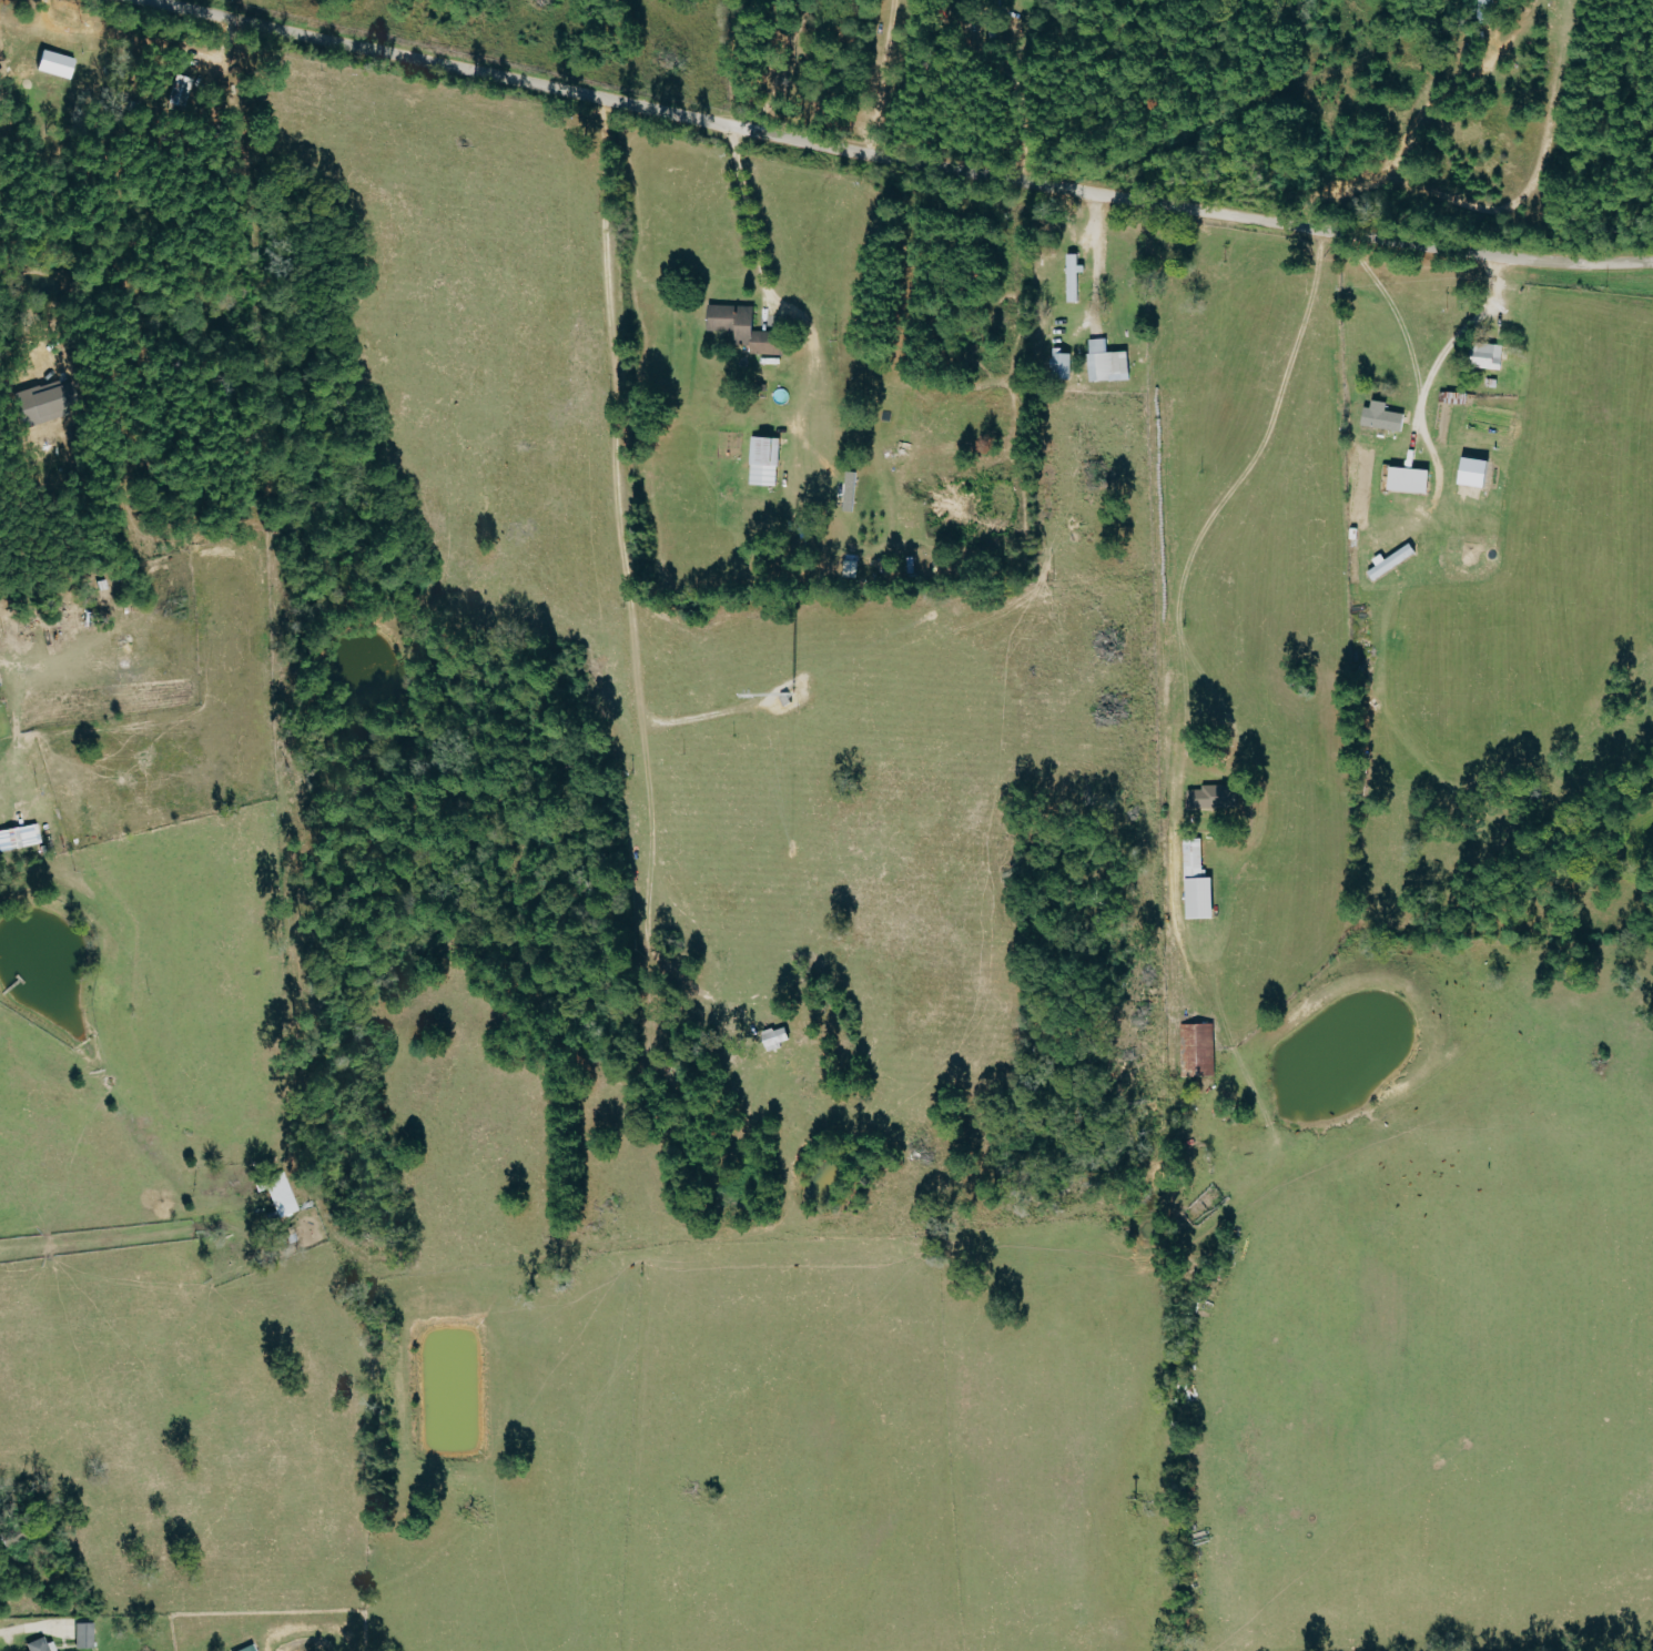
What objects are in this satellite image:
road: (48, 11)
building: (55, 64)
building: (181, 91)
road: (1017, 129)
road: (895, 160)
road: (747, 213)
road: (1095, 256)
building: (1074, 277)
road: (1396, 312)
building: (743, 328)
building: (1489, 356)
building: (1107, 362)
building: (1062, 365)
road: (1429, 387)
building: (1383, 417)
building: (764, 460)
building: (1475, 474)
building: (1410, 477)
building: (850, 490)
building: (1391, 560)
road: (1184, 564)
building: (1211, 797)
building: (19, 837)
building: (1197, 881)
building: (777, 1039)
building: (1198, 1050)
building: (84, 1635)
building: (37, 1645)

